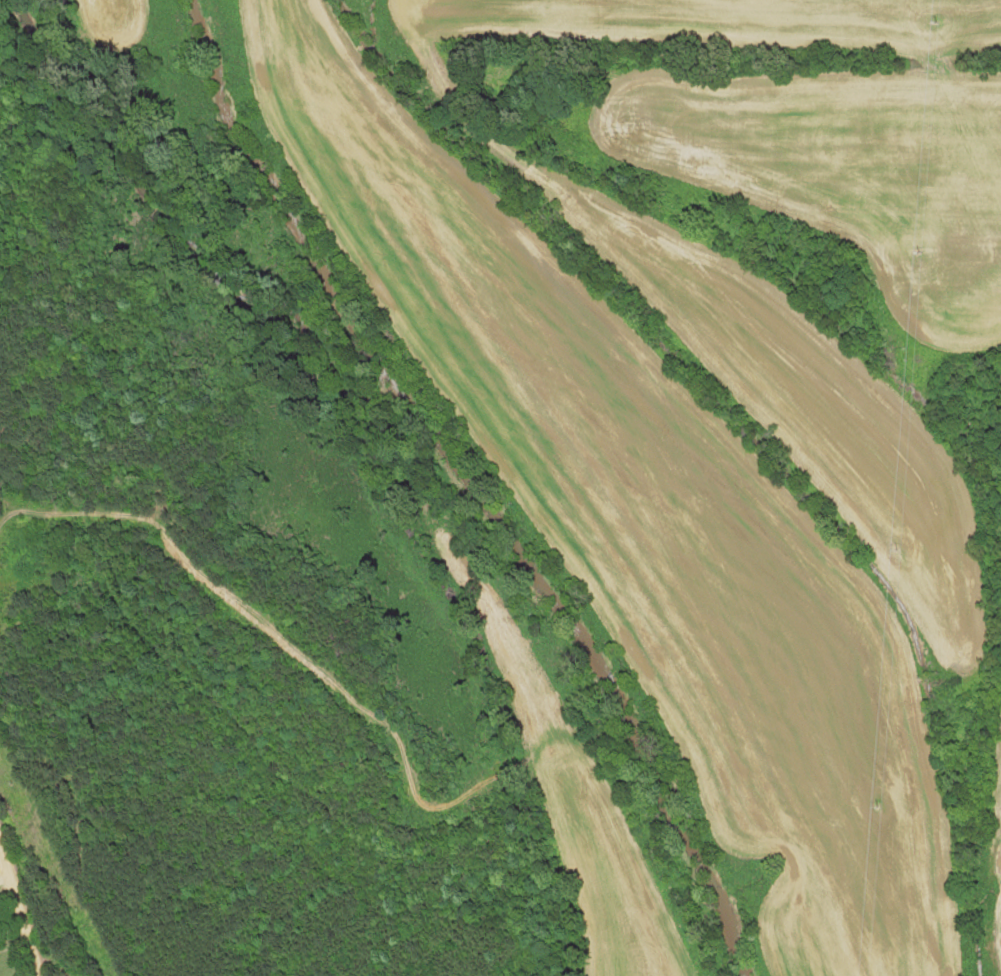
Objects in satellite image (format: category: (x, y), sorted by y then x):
road: (23, 903)

